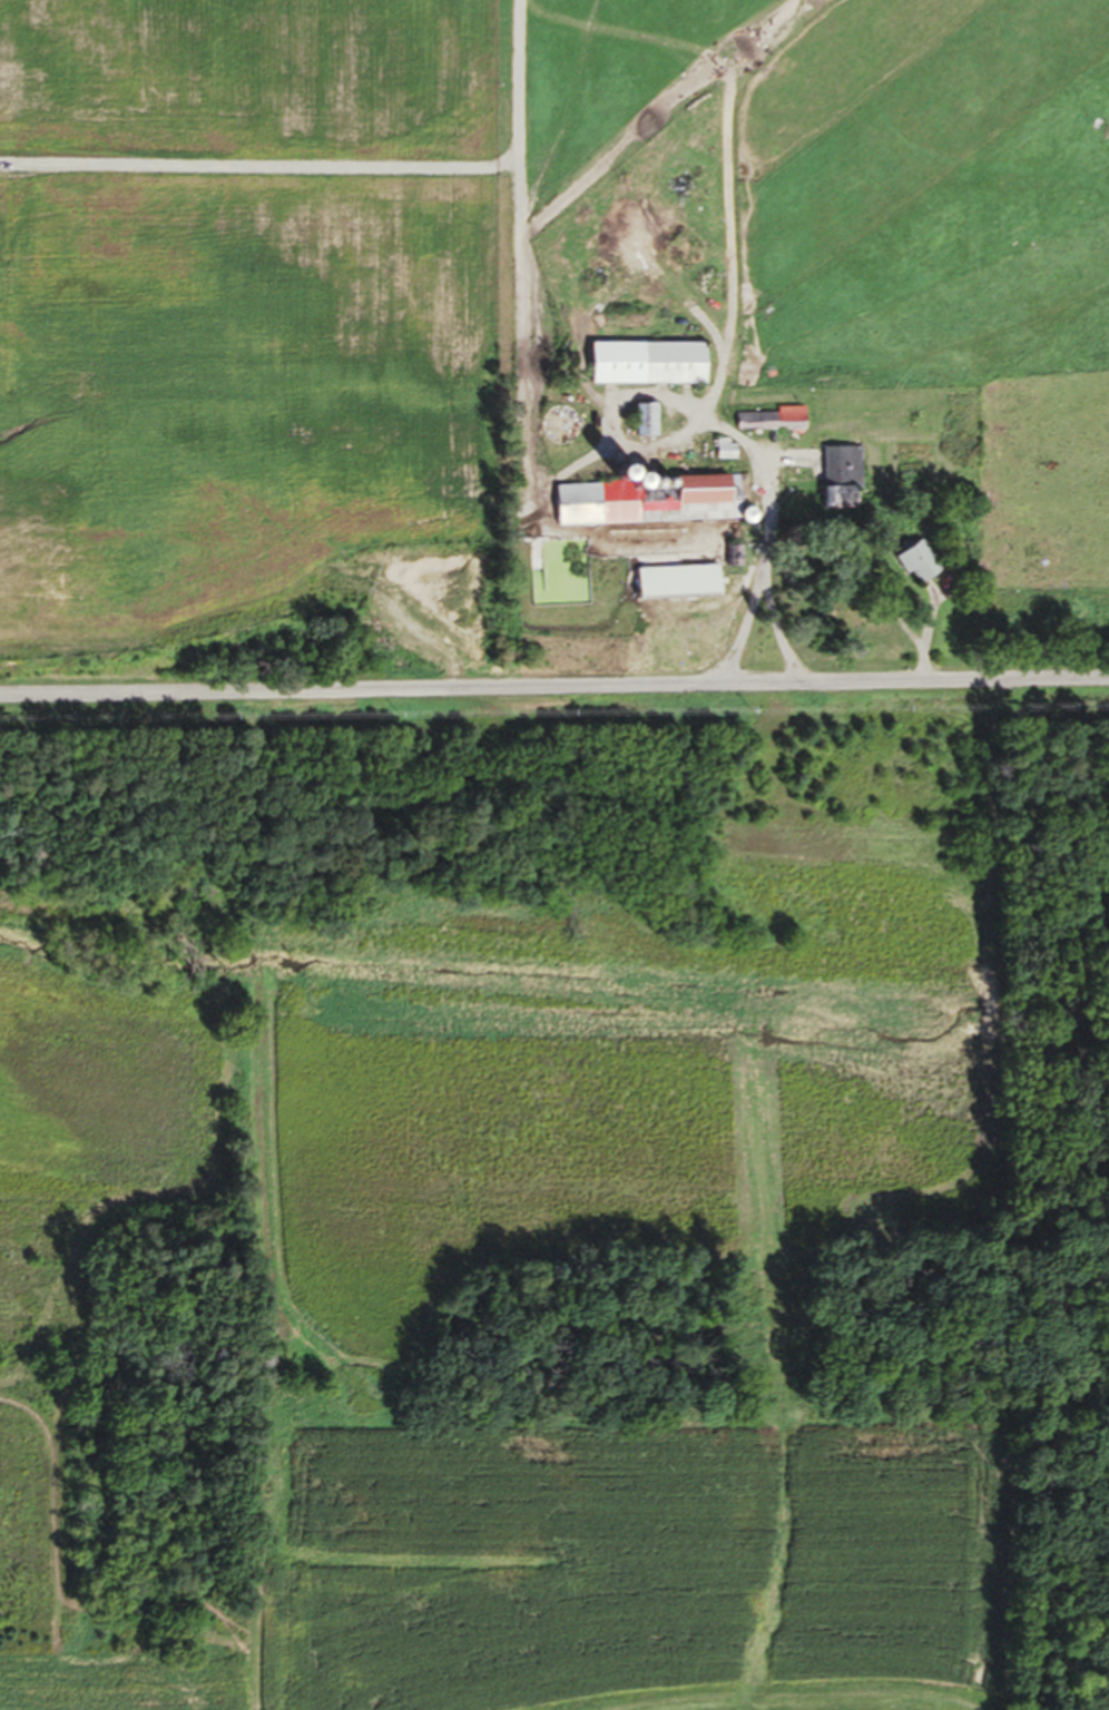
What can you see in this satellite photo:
road: (320, 171)
building: (644, 368)
building: (641, 425)
building: (766, 425)
building: (722, 454)
building: (838, 483)
building: (647, 507)
road: (766, 521)
building: (729, 561)
building: (914, 568)
building: (675, 588)
road: (739, 628)
road: (554, 687)

